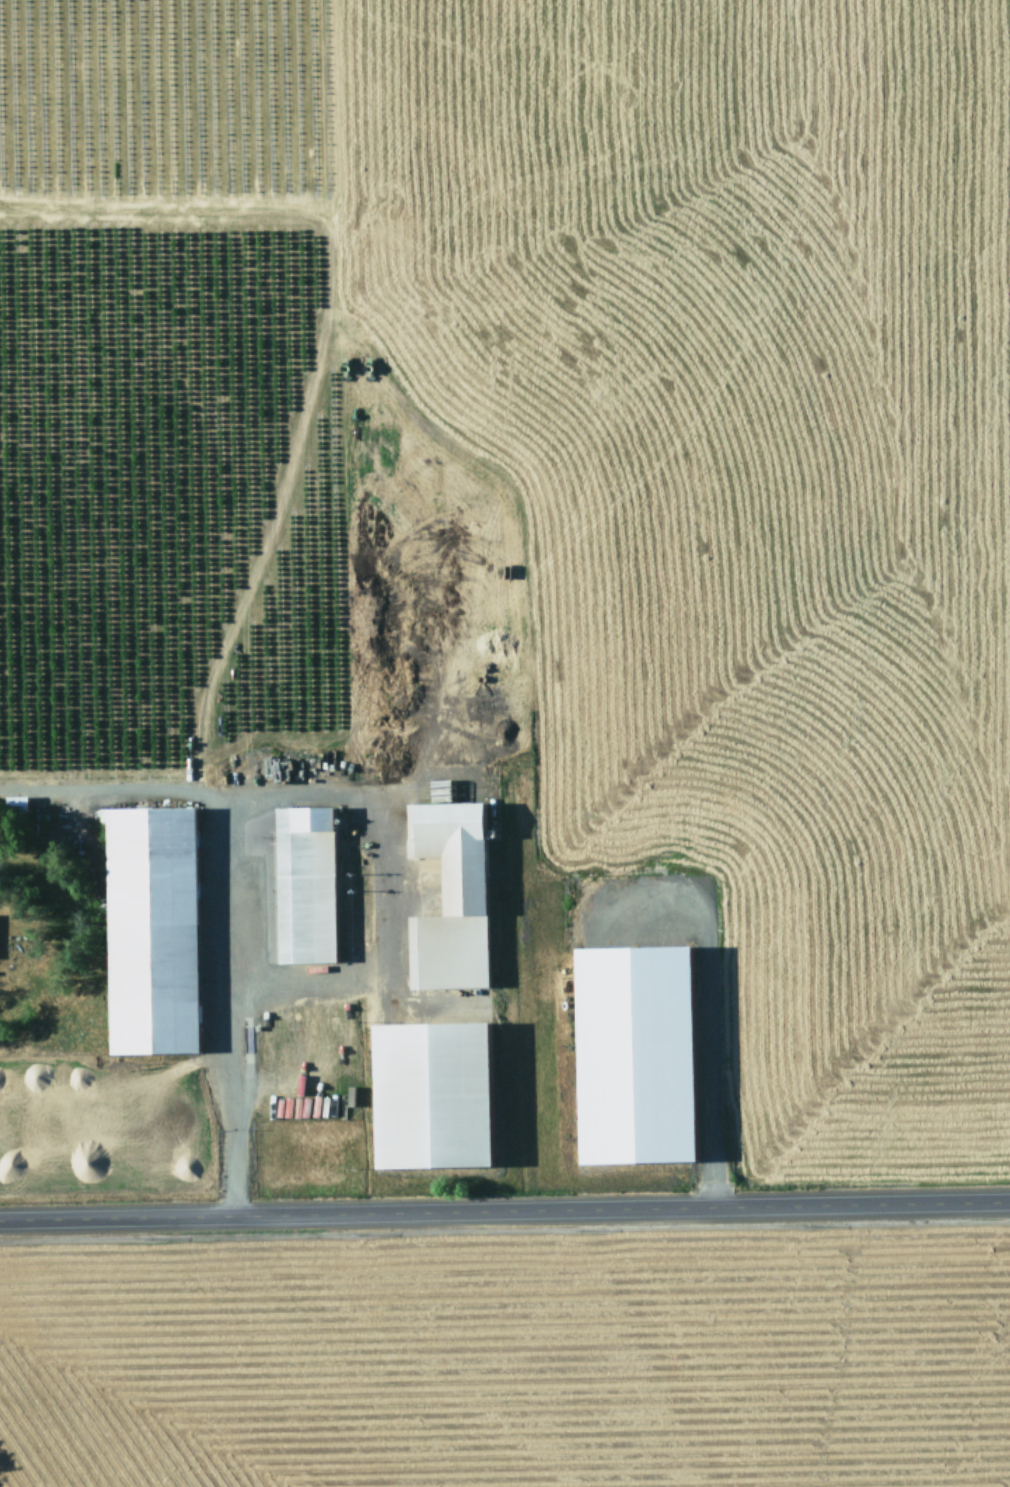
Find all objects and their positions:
crop: (505, 743)
building: (12, 803)
building: (300, 884)
building: (444, 898)
road: (213, 900)
building: (145, 929)
building: (626, 1054)
building: (423, 1095)
road: (505, 1209)

